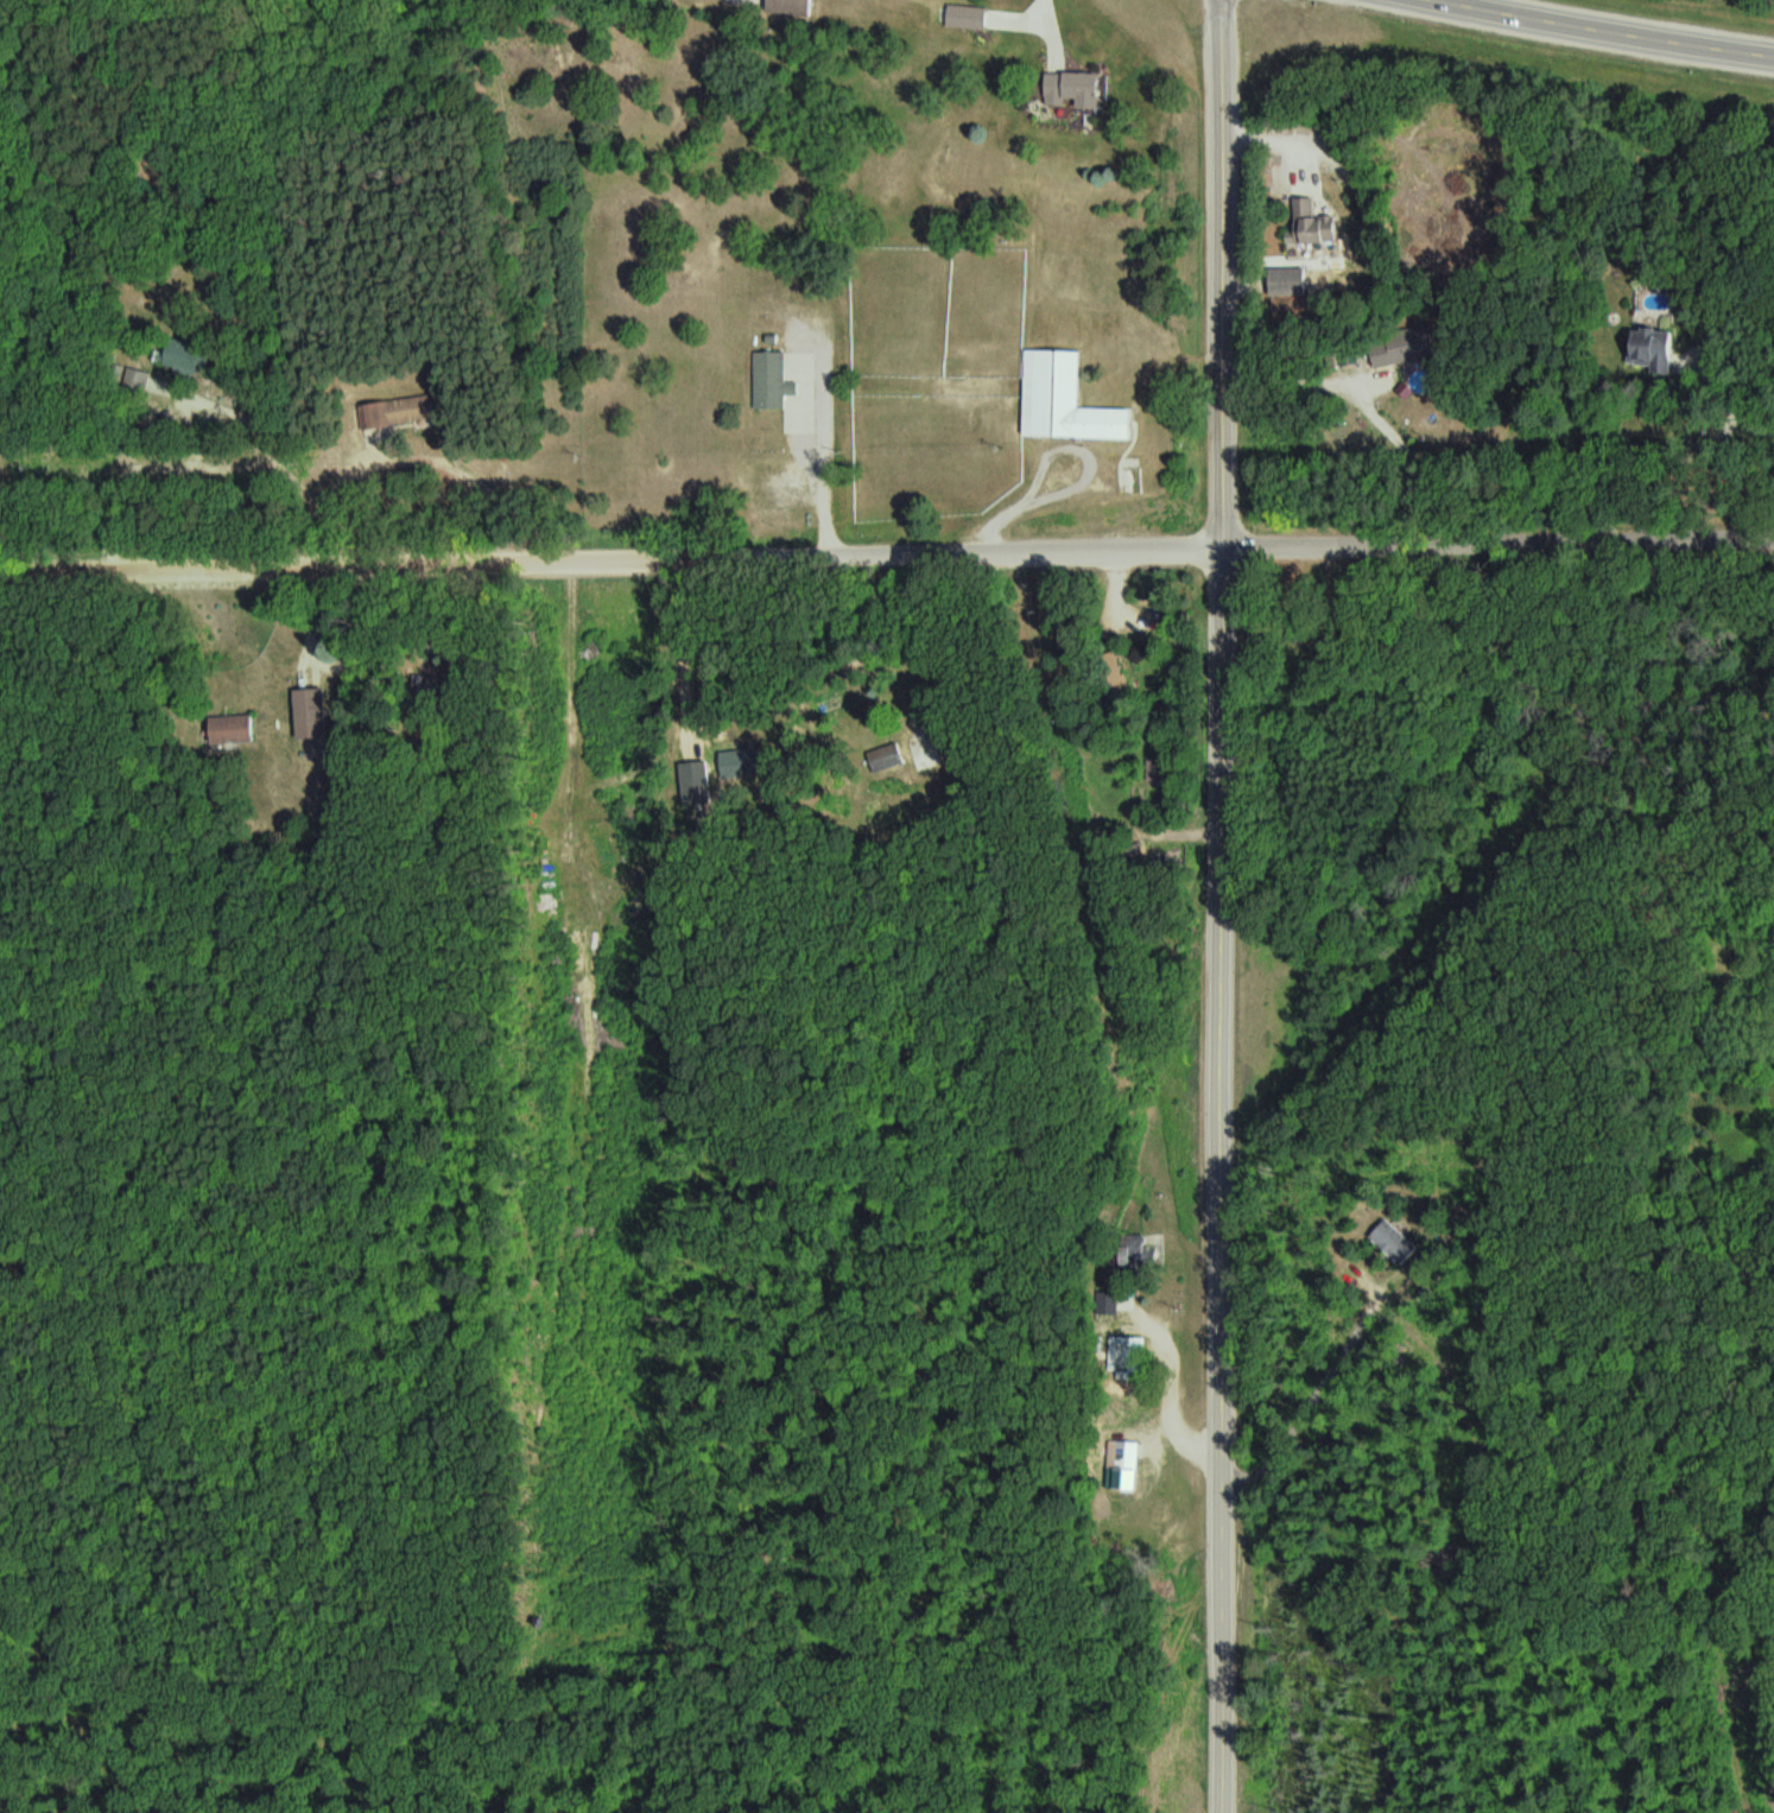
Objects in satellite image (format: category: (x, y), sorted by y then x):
building: (792, 7)
building: (970, 17)
road: (1607, 30)
building: (1075, 89)
building: (1318, 224)
building: (1291, 280)
building: (1655, 344)
building: (773, 380)
building: (1069, 399)
building: (392, 412)
road: (887, 556)
building: (235, 728)
building: (888, 759)
building: (695, 776)
building: (1138, 856)
road: (1231, 906)
building: (1143, 1249)
building: (1128, 1354)

